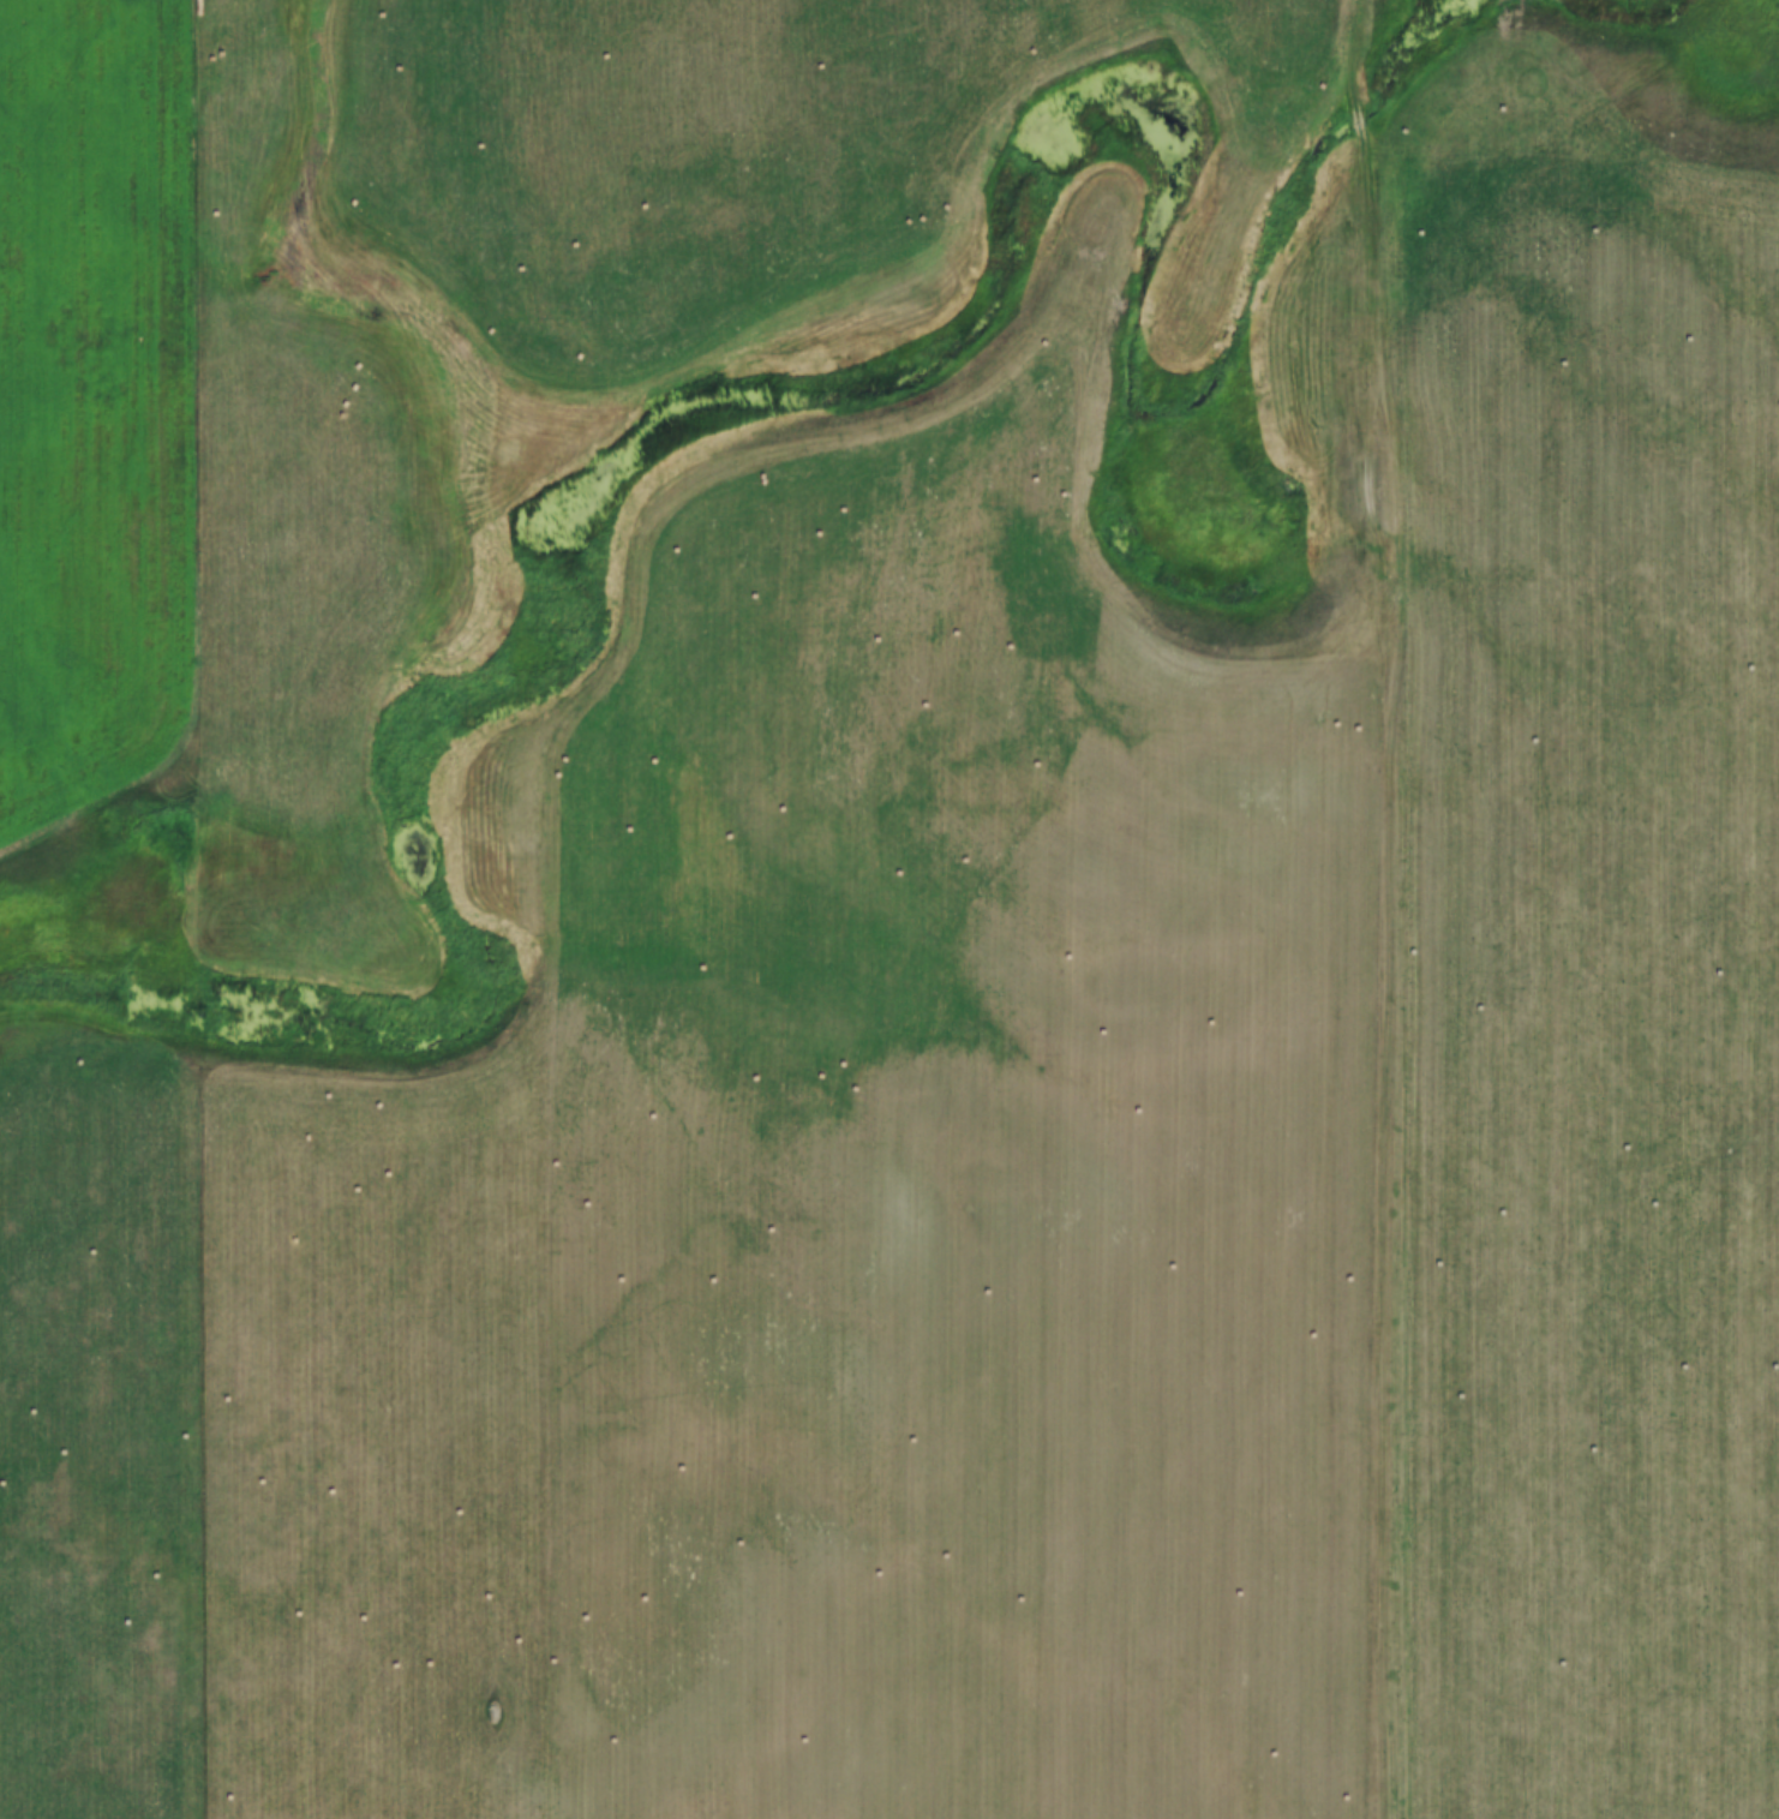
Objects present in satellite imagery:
road: (1396, 906)

